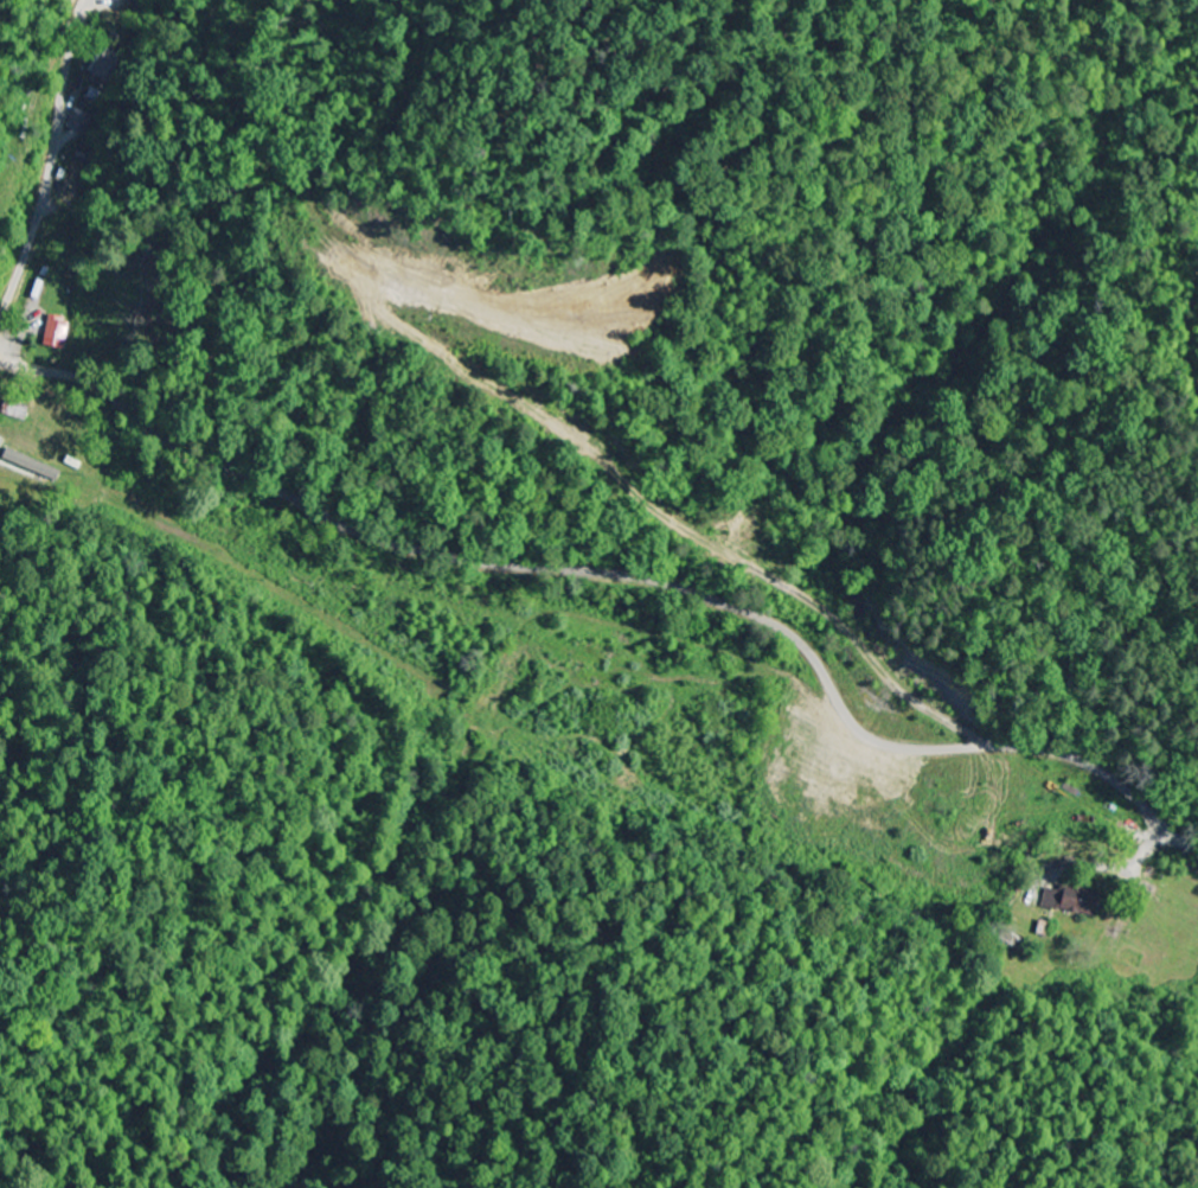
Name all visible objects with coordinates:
road: (49, 181)
building: (59, 333)
road: (1101, 376)
road: (623, 579)
building: (1068, 901)

